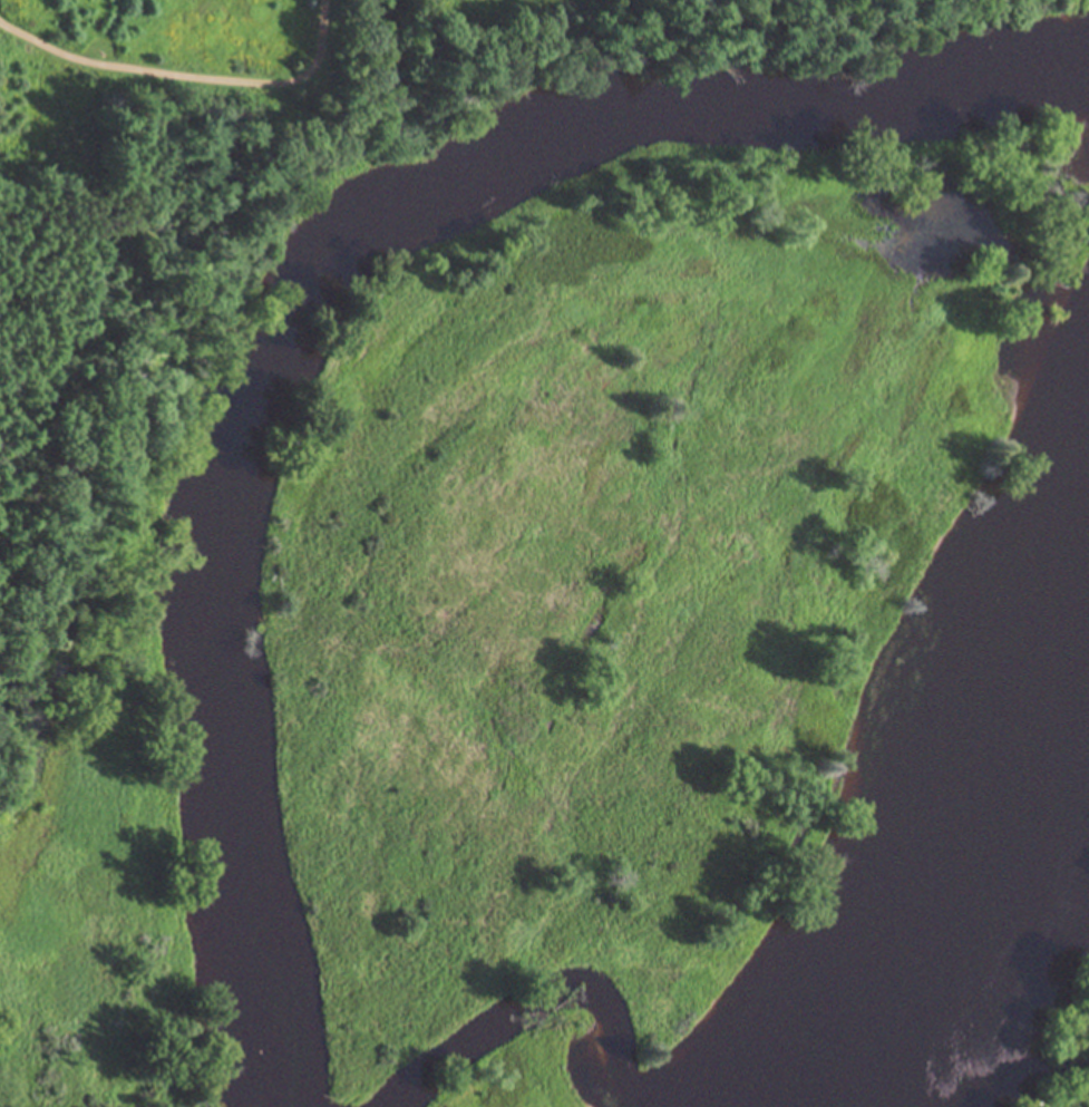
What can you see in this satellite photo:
road: (191, 76)
park: (225, 416)
river: (949, 954)

